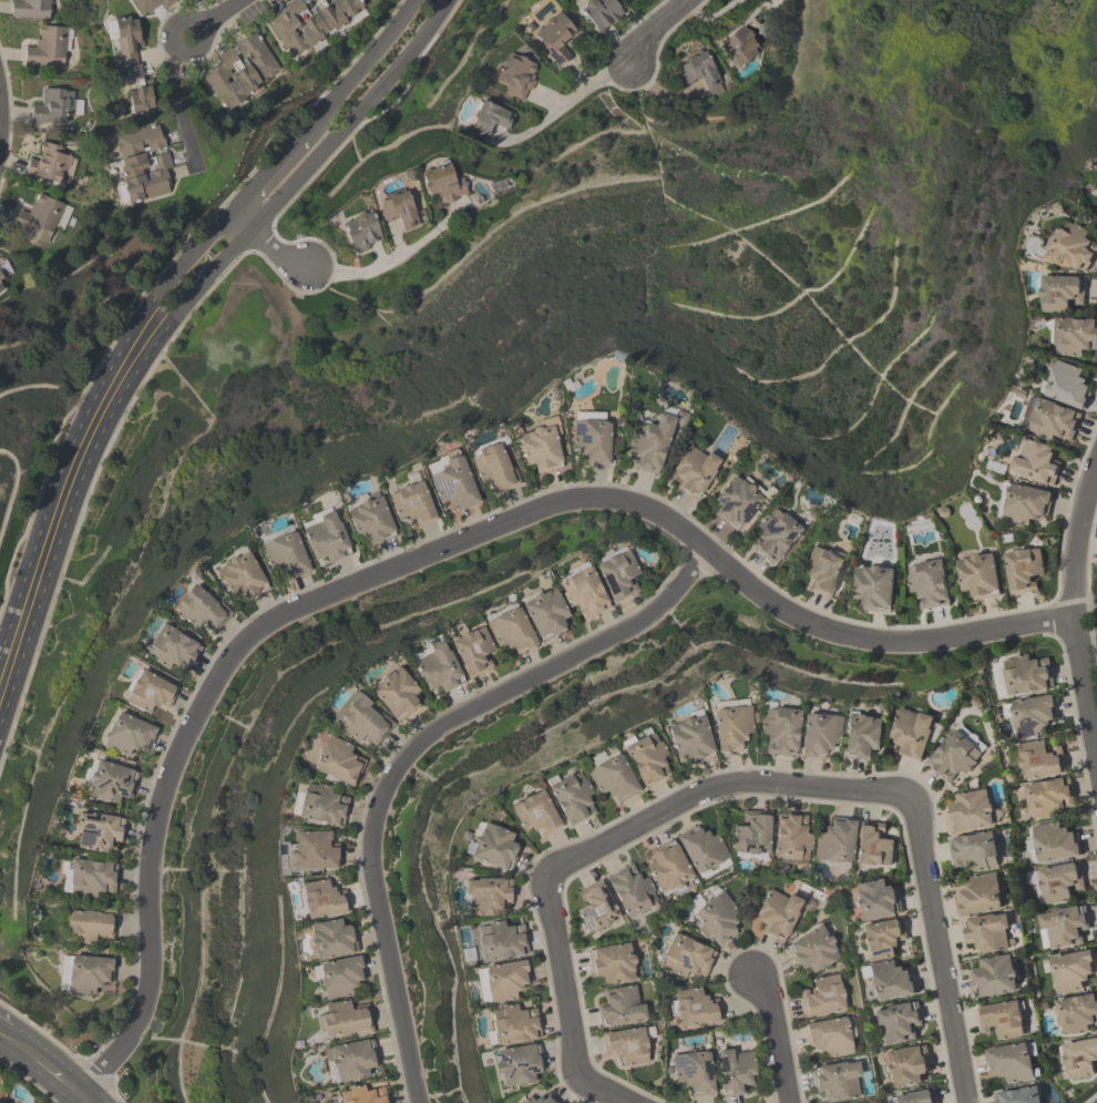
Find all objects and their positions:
building: (148, 6)
building: (32, 9)
road: (221, 12)
building: (601, 13)
building: (310, 22)
road: (653, 29)
building: (556, 38)
road: (173, 47)
building: (741, 47)
building: (50, 48)
building: (130, 50)
road: (367, 63)
building: (240, 72)
road: (581, 73)
building: (701, 74)
building: (517, 75)
road: (550, 99)
building: (142, 100)
building: (54, 106)
road: (563, 106)
road: (181, 108)
road: (4, 120)
building: (490, 120)
building: (143, 163)
building: (53, 164)
road: (273, 167)
building: (442, 184)
road: (283, 195)
road: (460, 205)
building: (399, 211)
building: (43, 217)
building: (362, 232)
road: (397, 238)
road: (267, 245)
building: (1072, 248)
road: (378, 254)
road: (393, 259)
building: (2, 284)
road: (158, 292)
building: (1062, 293)
building: (1074, 336)
building: (1058, 404)
building: (593, 441)
building: (650, 446)
building: (540, 448)
building: (1035, 462)
building: (493, 466)
building: (697, 470)
building: (452, 482)
building: (738, 502)
building: (412, 504)
building: (1024, 504)
building: (371, 520)
building: (776, 535)
road: (51, 537)
building: (326, 538)
building: (286, 554)
building: (1024, 570)
building: (823, 571)
building: (617, 574)
building: (980, 575)
building: (242, 576)
building: (929, 583)
building: (875, 588)
building: (584, 592)
road: (1076, 602)
building: (202, 609)
building: (545, 613)
building: (511, 631)
road: (250, 637)
road: (882, 639)
building: (173, 648)
building: (473, 652)
building: (438, 667)
building: (1026, 675)
building: (150, 692)
building: (396, 693)
building: (1033, 716)
building: (363, 719)
building: (732, 726)
building: (780, 731)
building: (914, 733)
building: (129, 735)
building: (819, 735)
building: (863, 735)
building: (690, 737)
road: (414, 753)
building: (957, 754)
building: (647, 757)
building: (1042, 760)
building: (338, 762)
building: (612, 776)
building: (111, 782)
road: (725, 784)
building: (572, 797)
building: (1050, 799)
building: (319, 804)
building: (972, 811)
building: (536, 814)
building: (98, 831)
building: (752, 836)
building: (792, 839)
building: (1052, 842)
building: (835, 844)
building: (492, 846)
building: (874, 846)
building: (315, 850)
building: (975, 851)
building: (688, 860)
building: (89, 878)
building: (1057, 884)
building: (633, 891)
building: (981, 895)
building: (486, 896)
building: (324, 899)
building: (876, 901)
building: (597, 908)
building: (778, 913)
building: (716, 918)
building: (88, 926)
building: (1063, 927)
building: (990, 933)
building: (332, 939)
building: (884, 939)
building: (501, 941)
building: (812, 950)
road: (941, 953)
building: (686, 957)
building: (614, 963)
building: (1073, 971)
building: (85, 973)
road: (565, 977)
building: (341, 978)
building: (996, 978)
building: (503, 981)
building: (891, 981)
building: (823, 997)
building: (622, 1008)
building: (694, 1008)
building: (1077, 1014)
building: (1004, 1020)
building: (346, 1021)
building: (898, 1022)
building: (514, 1024)
road: (2, 1034)
road: (776, 1034)
building: (831, 1038)
building: (625, 1043)
road: (20, 1049)
building: (1079, 1059)
building: (350, 1061)
building: (1014, 1063)
building: (517, 1065)
building: (906, 1068)
building: (736, 1071)
building: (695, 1073)
road: (58, 1079)
building: (839, 1081)
road: (613, 1091)
building: (363, 1095)
building: (1021, 1095)
building: (916, 1097)
building: (539, 1099)
road: (81, 1100)

